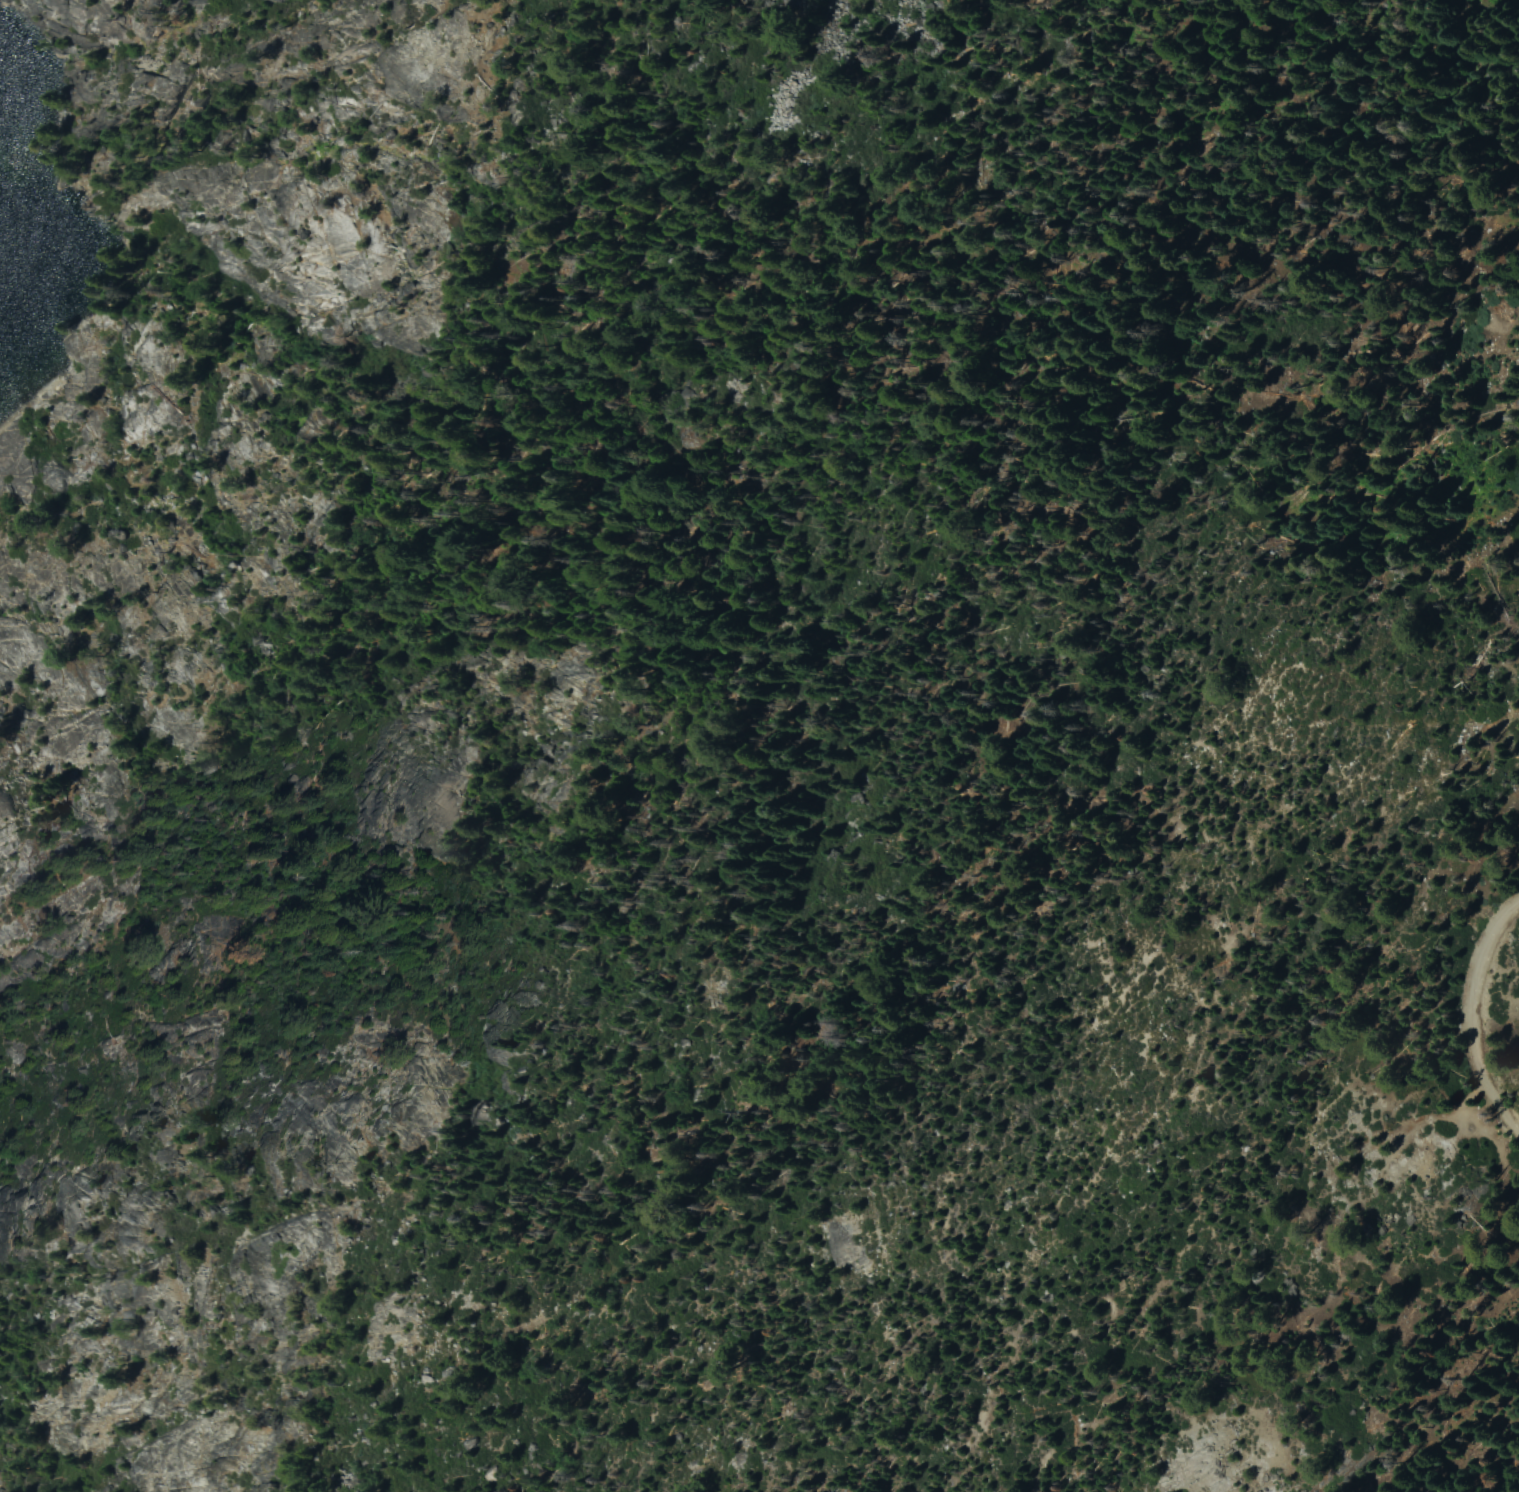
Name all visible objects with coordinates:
road: (1511, 321)
road: (1472, 1053)

